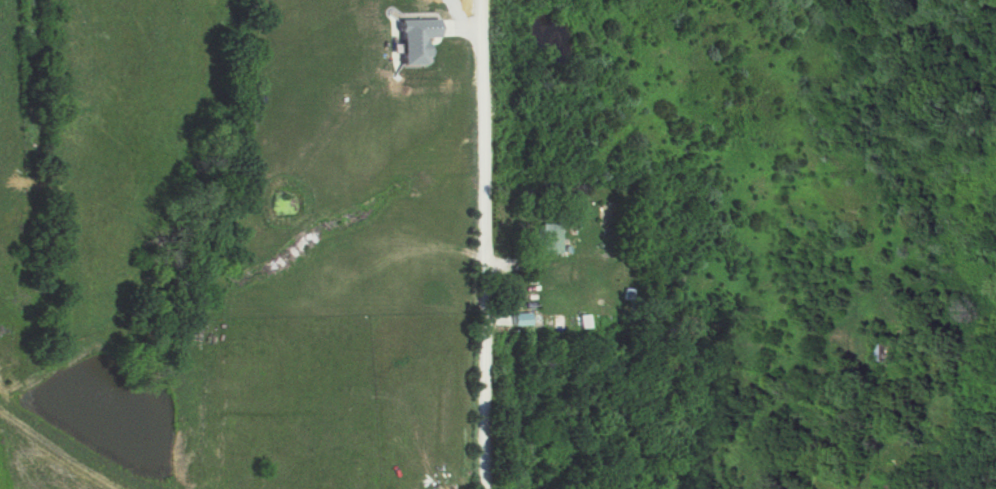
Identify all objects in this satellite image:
building: (545, 238)
road: (482, 244)
building: (515, 319)
building: (890, 350)
building: (895, 485)

